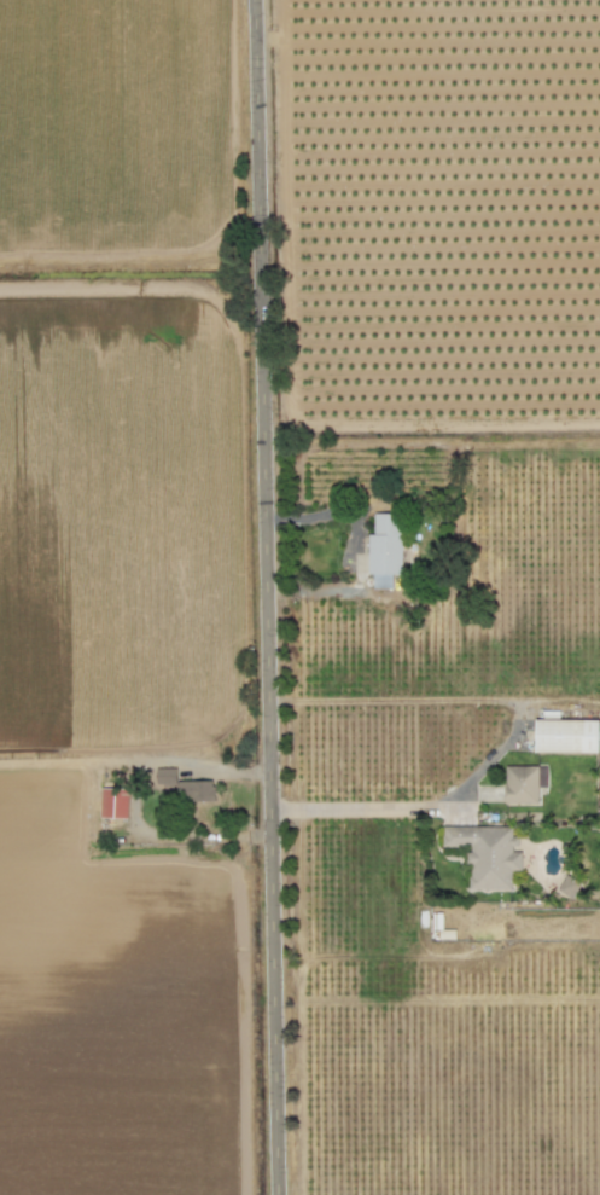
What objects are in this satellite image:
building: (384, 550)
road: (260, 597)
building: (566, 736)
building: (165, 777)
building: (523, 783)
building: (194, 791)
road: (130, 796)
building: (113, 804)
road: (404, 807)
building: (485, 854)
building: (569, 887)

